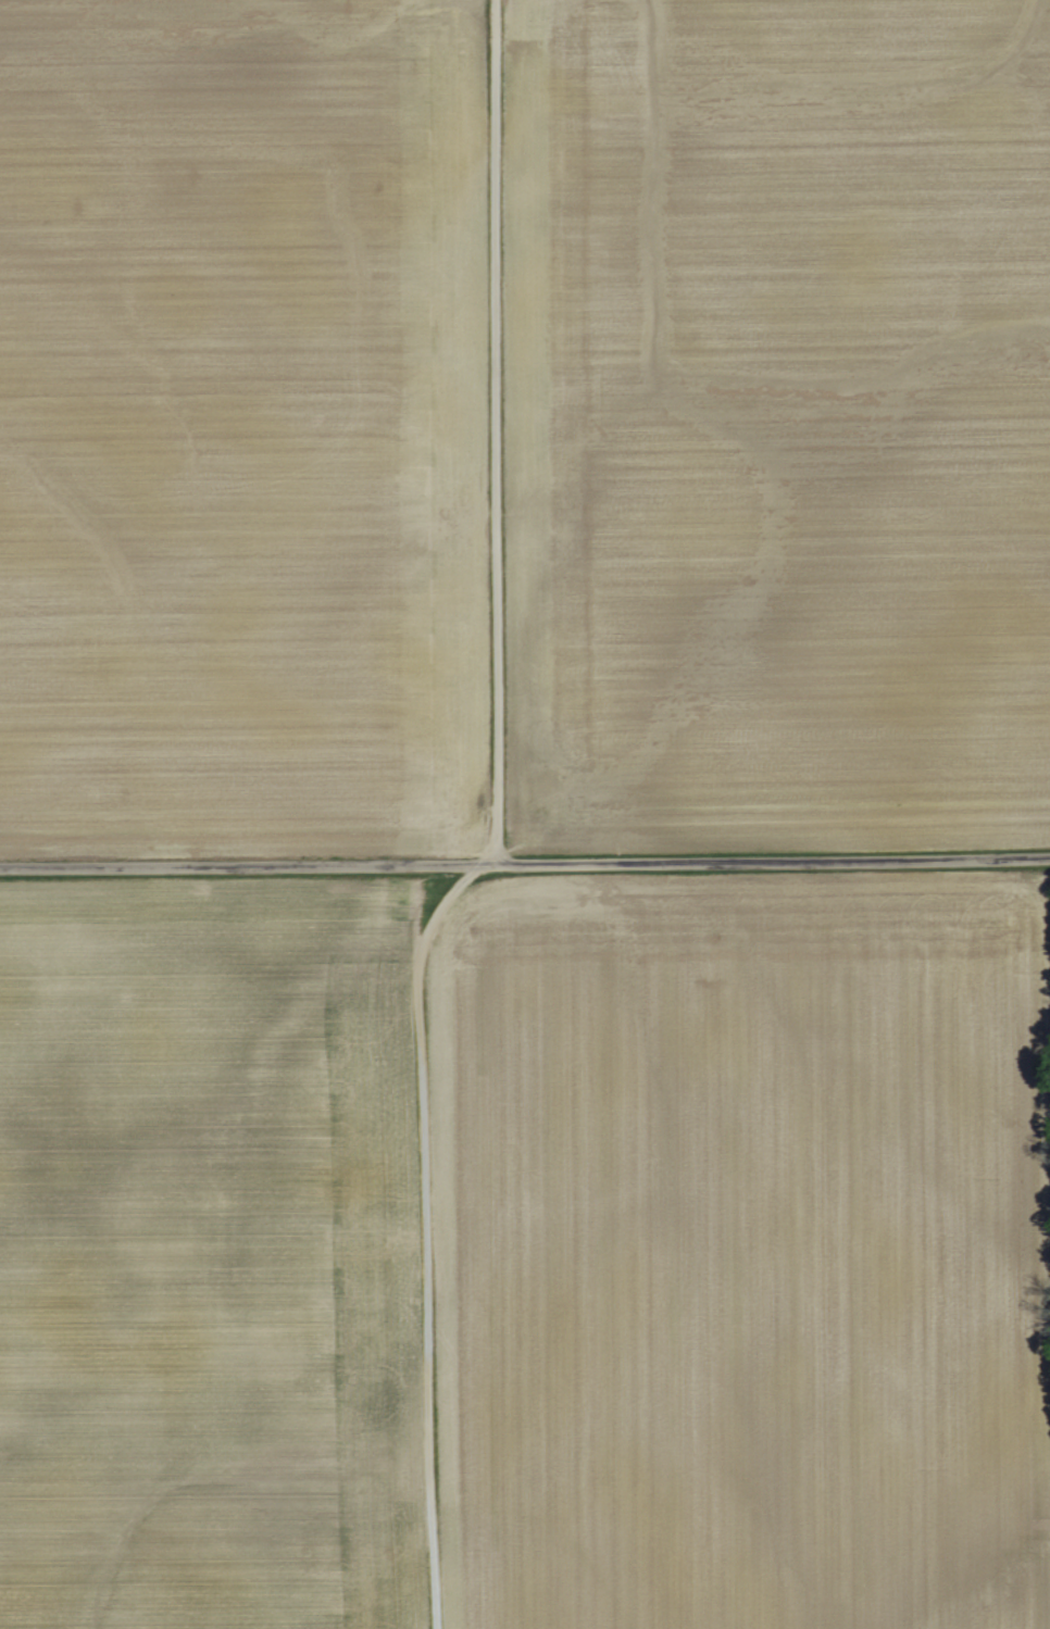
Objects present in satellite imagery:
road: (483, 435)
road: (525, 862)
road: (418, 1237)

